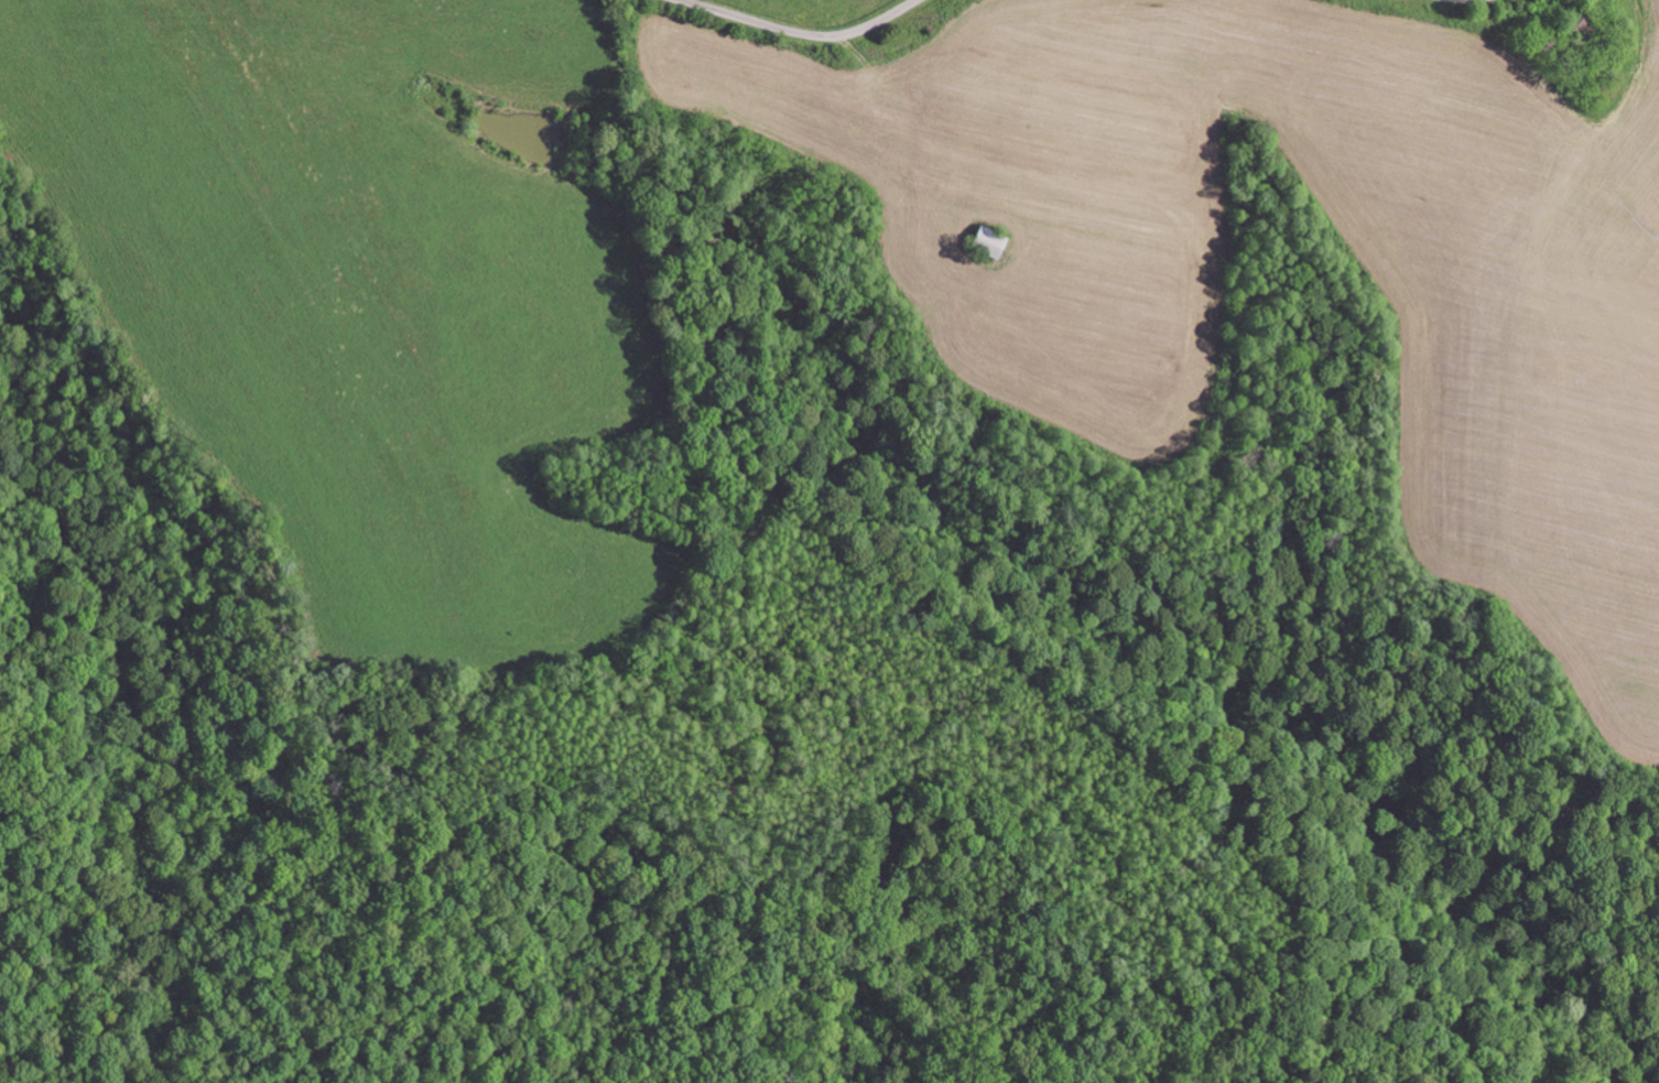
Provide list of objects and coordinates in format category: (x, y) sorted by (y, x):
road: (800, 32)

